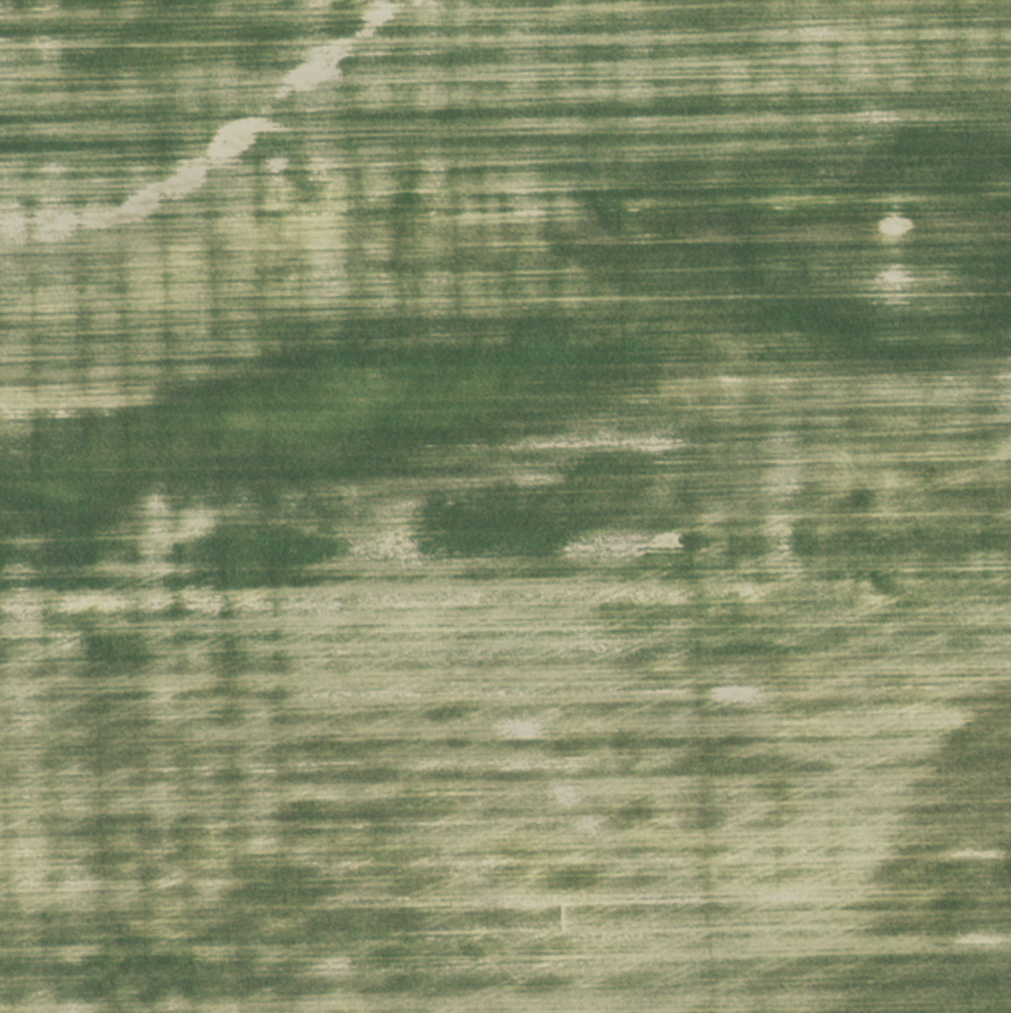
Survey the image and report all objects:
crop: (505, 506)

